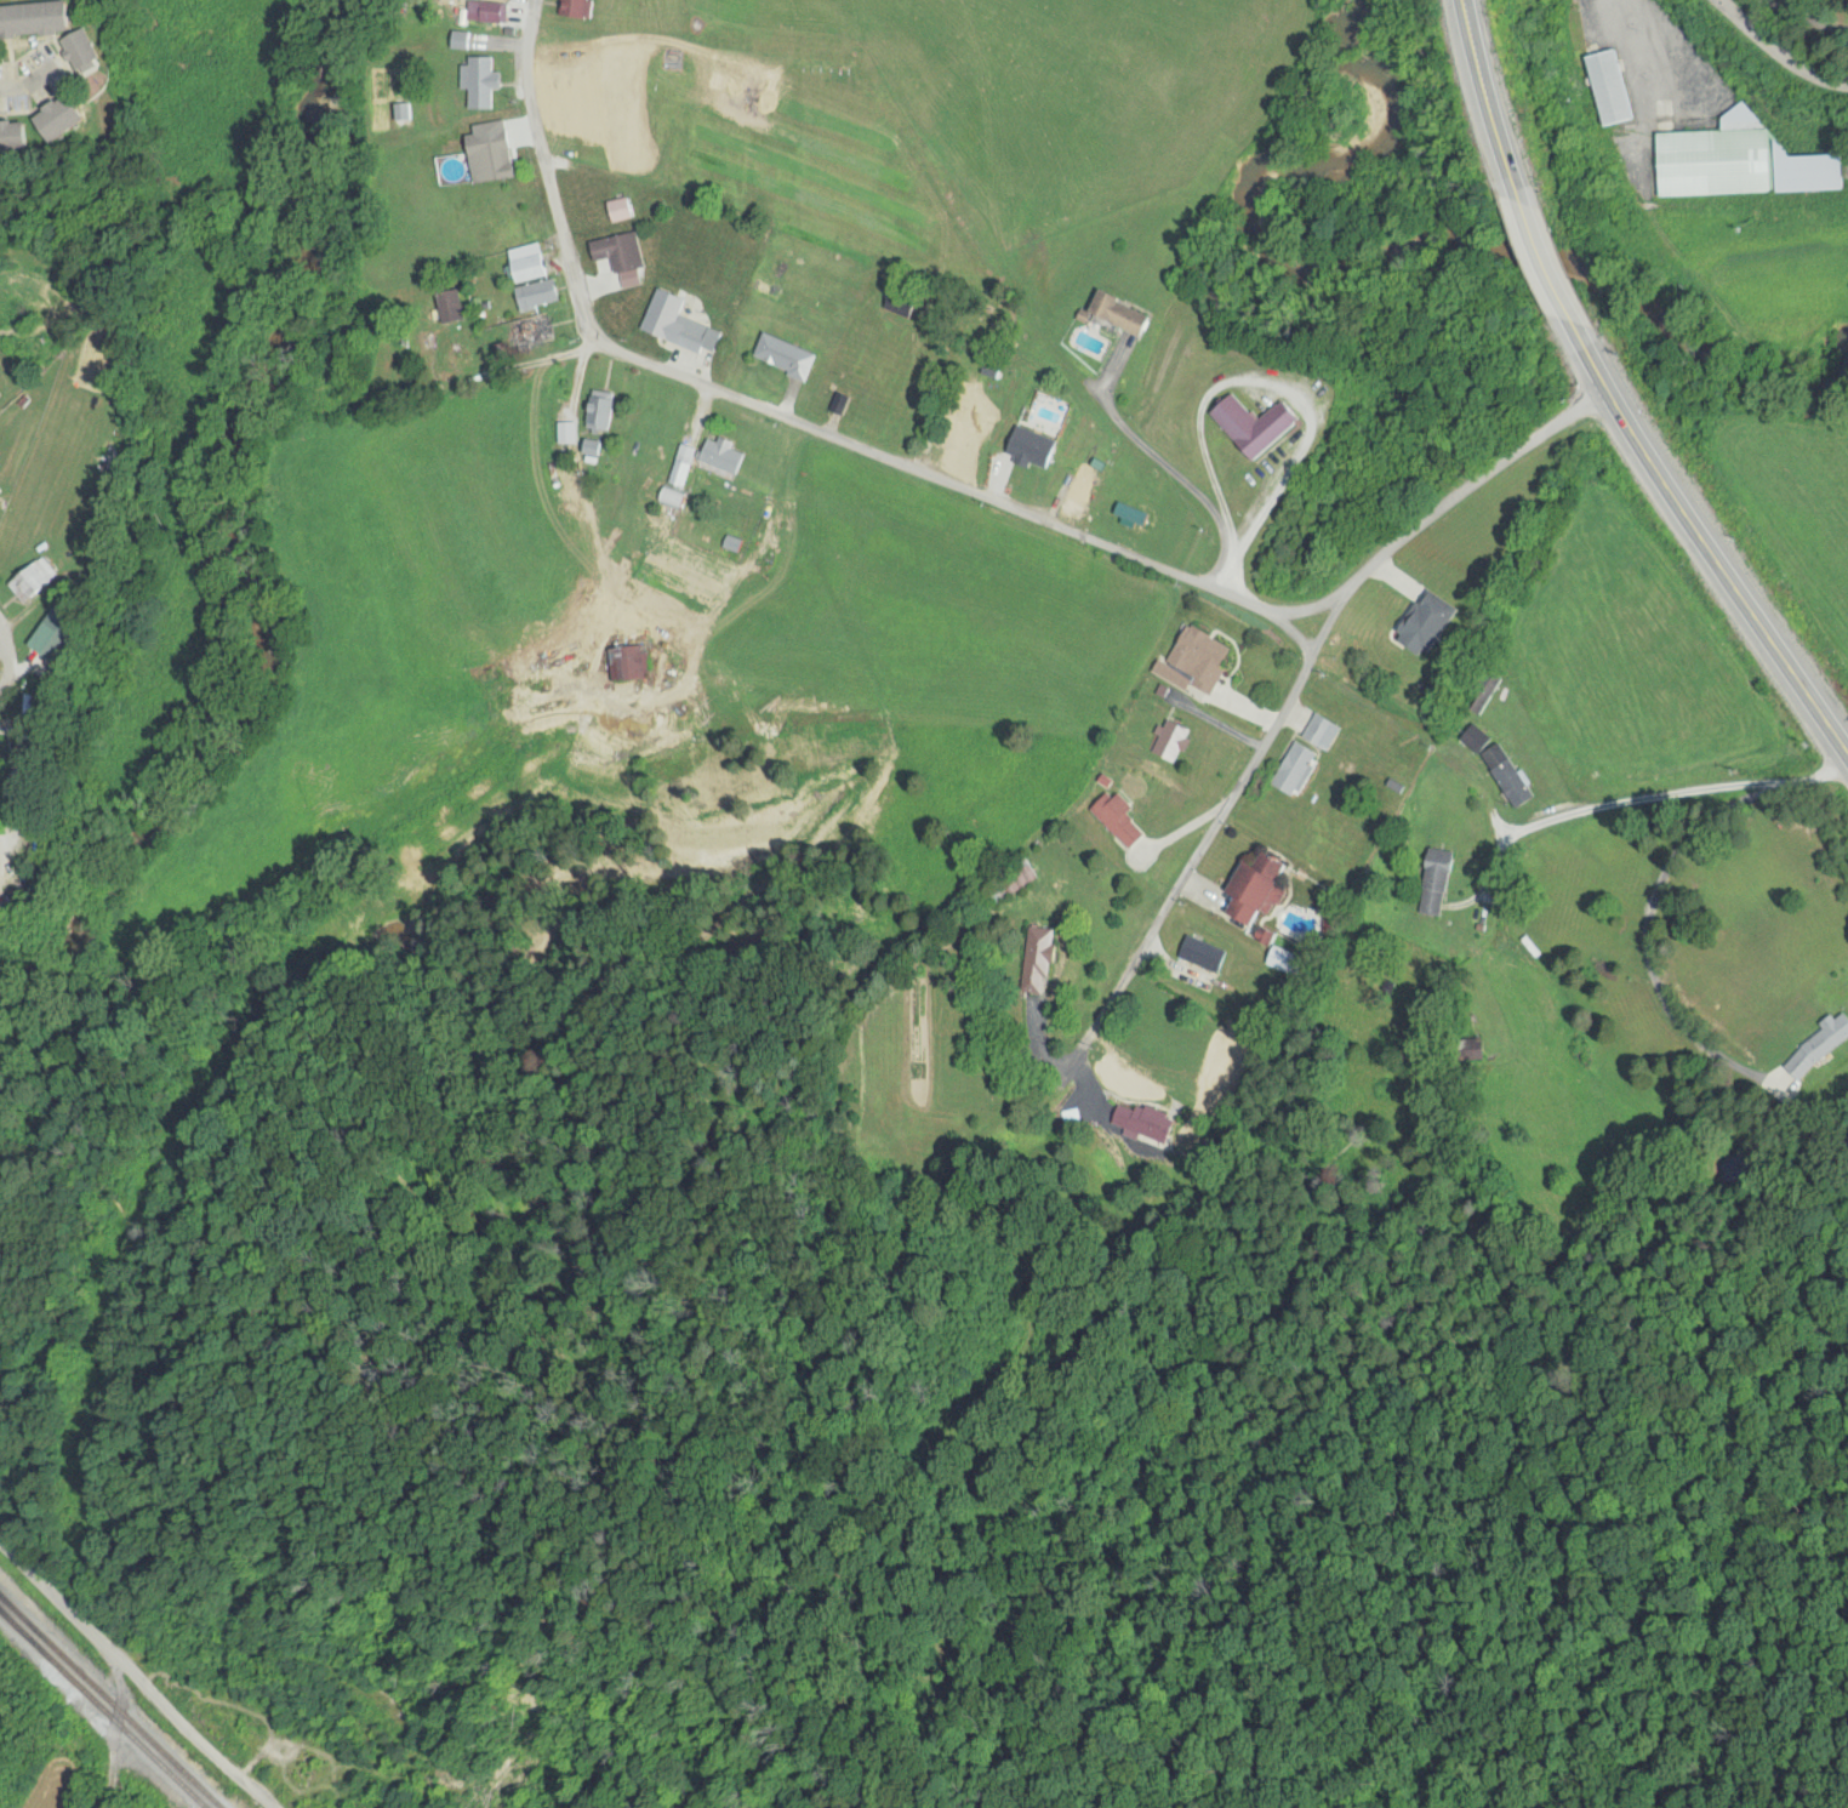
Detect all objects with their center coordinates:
road: (1781, 39)
road: (29, 74)
road: (1616, 395)
road: (963, 489)
road: (6, 658)
road: (1700, 789)
road: (49, 828)
road: (135, 1675)
railway: (112, 1700)
railway: (103, 1707)

